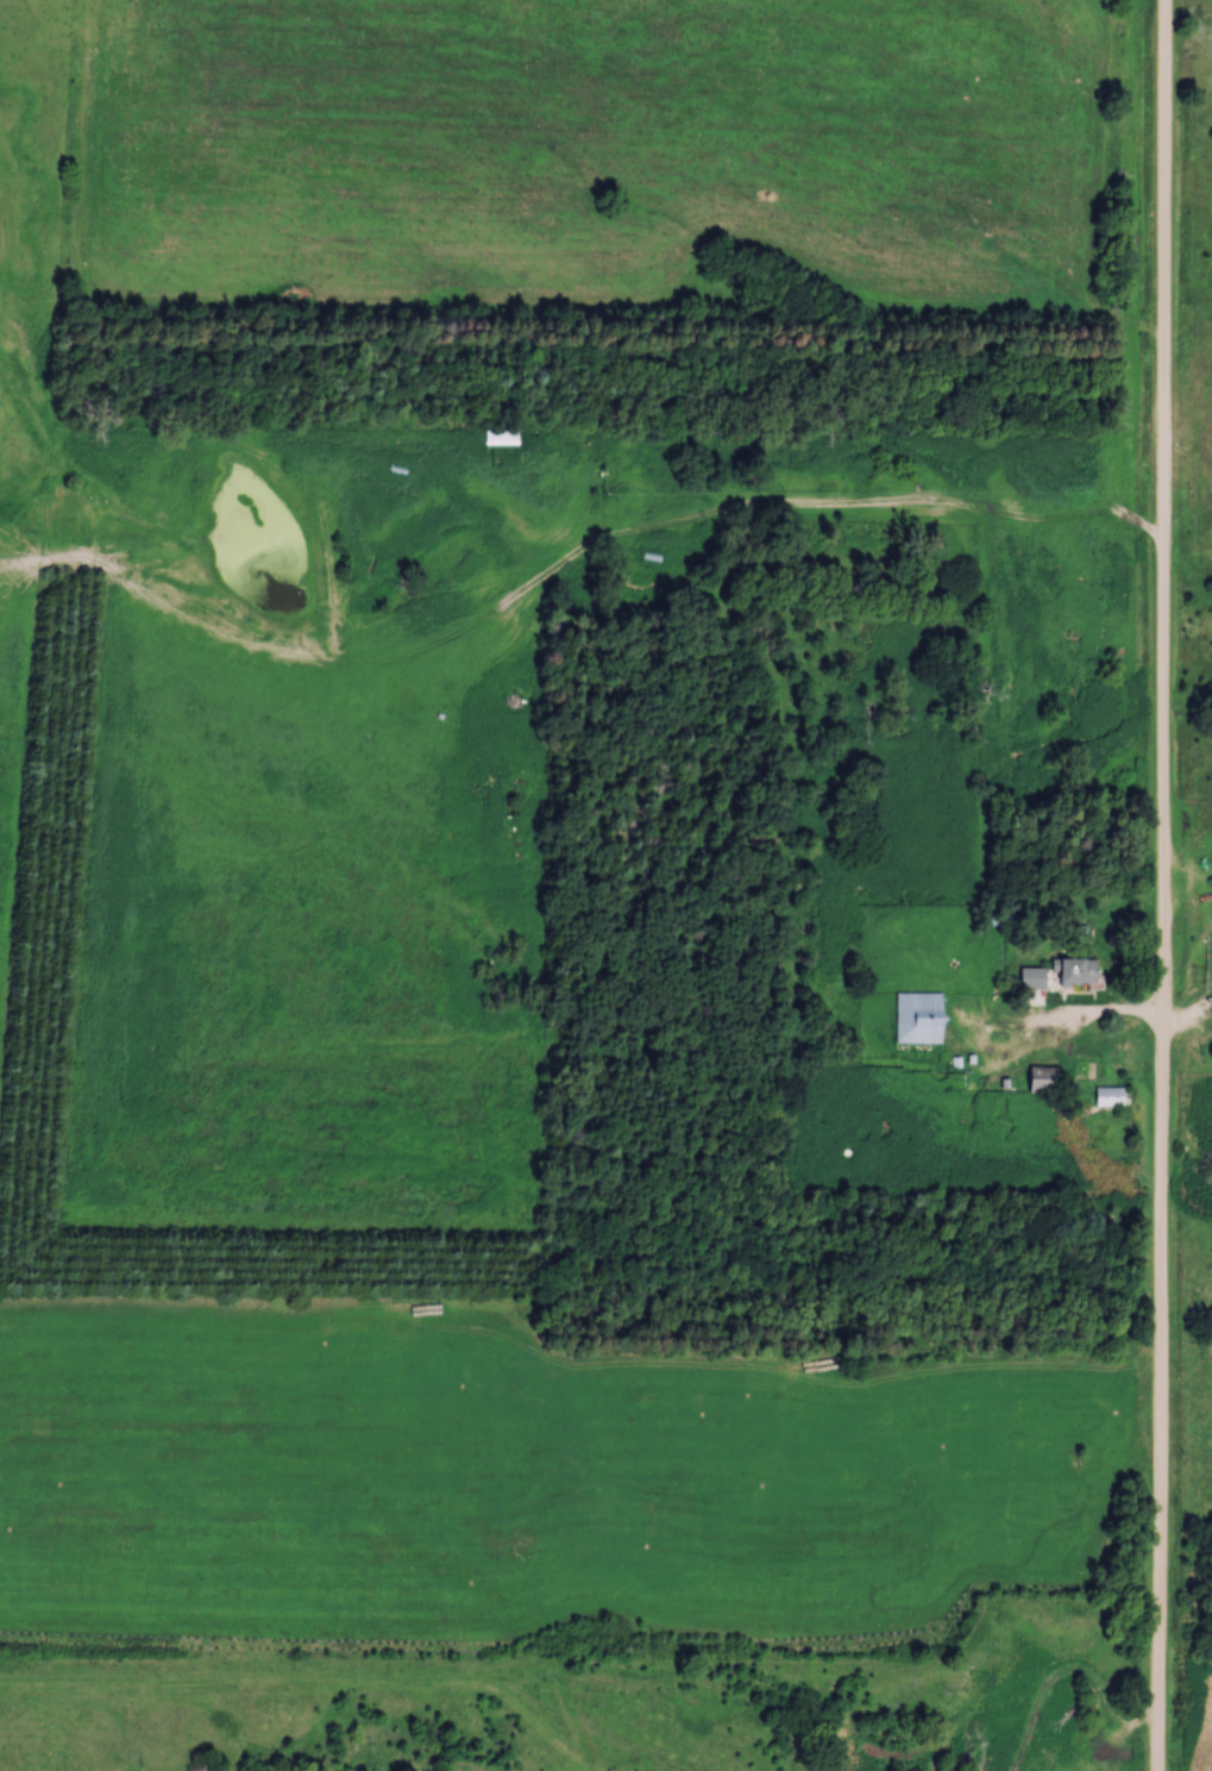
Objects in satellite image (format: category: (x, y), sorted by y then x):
road: (1162, 885)
building: (1085, 971)
building: (923, 1019)
road: (1063, 1021)
building: (1050, 1080)

